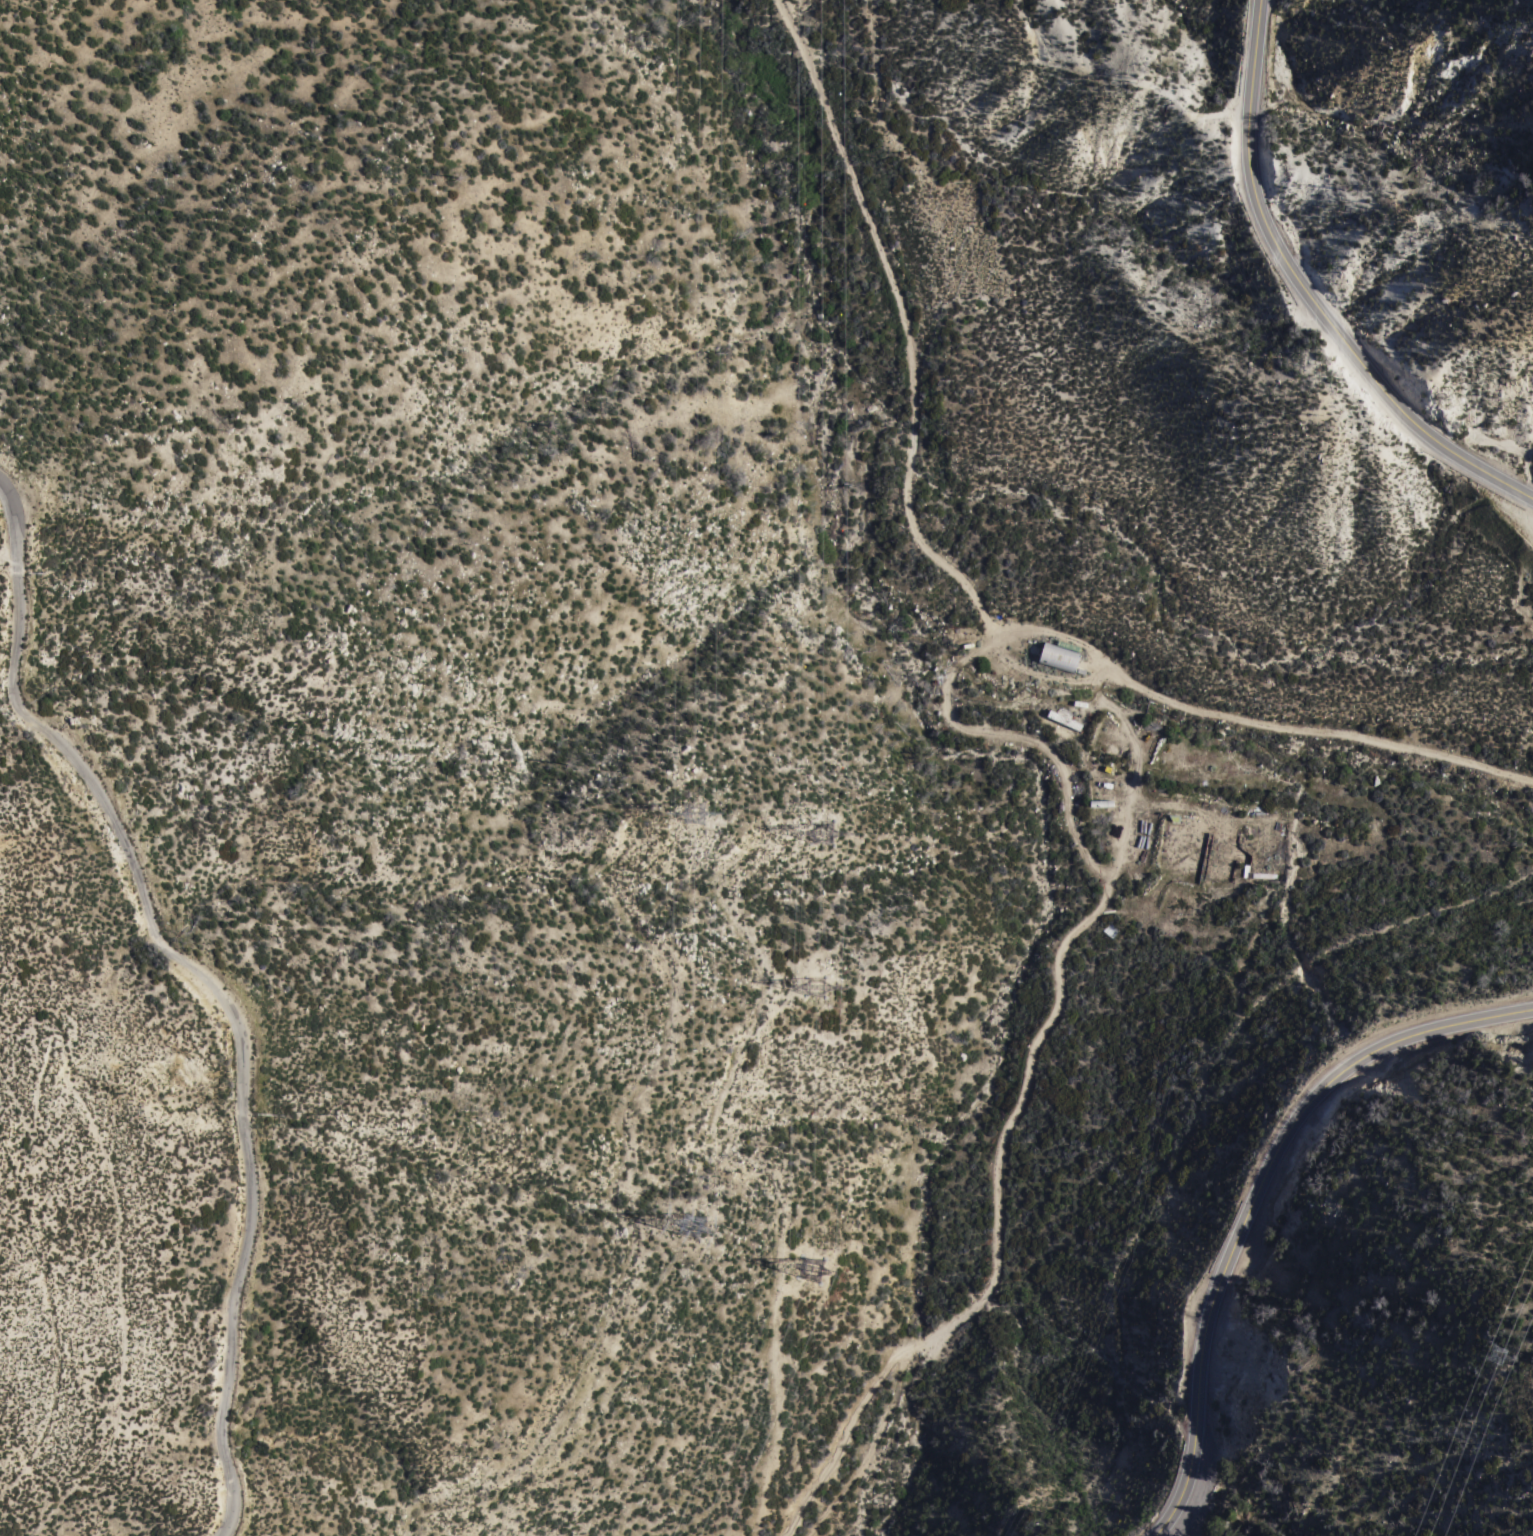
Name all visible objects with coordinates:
road: (1306, 294)
building: (1060, 658)
building: (1063, 720)
power tower: (716, 824)
power tower: (829, 830)
road: (209, 977)
power tower: (829, 978)
road: (749, 1160)
road: (1255, 1196)
road: (636, 1199)
road: (116, 1212)
road: (1000, 1231)
power tower: (716, 1234)
power tower: (829, 1262)
power tower: (1502, 1360)

